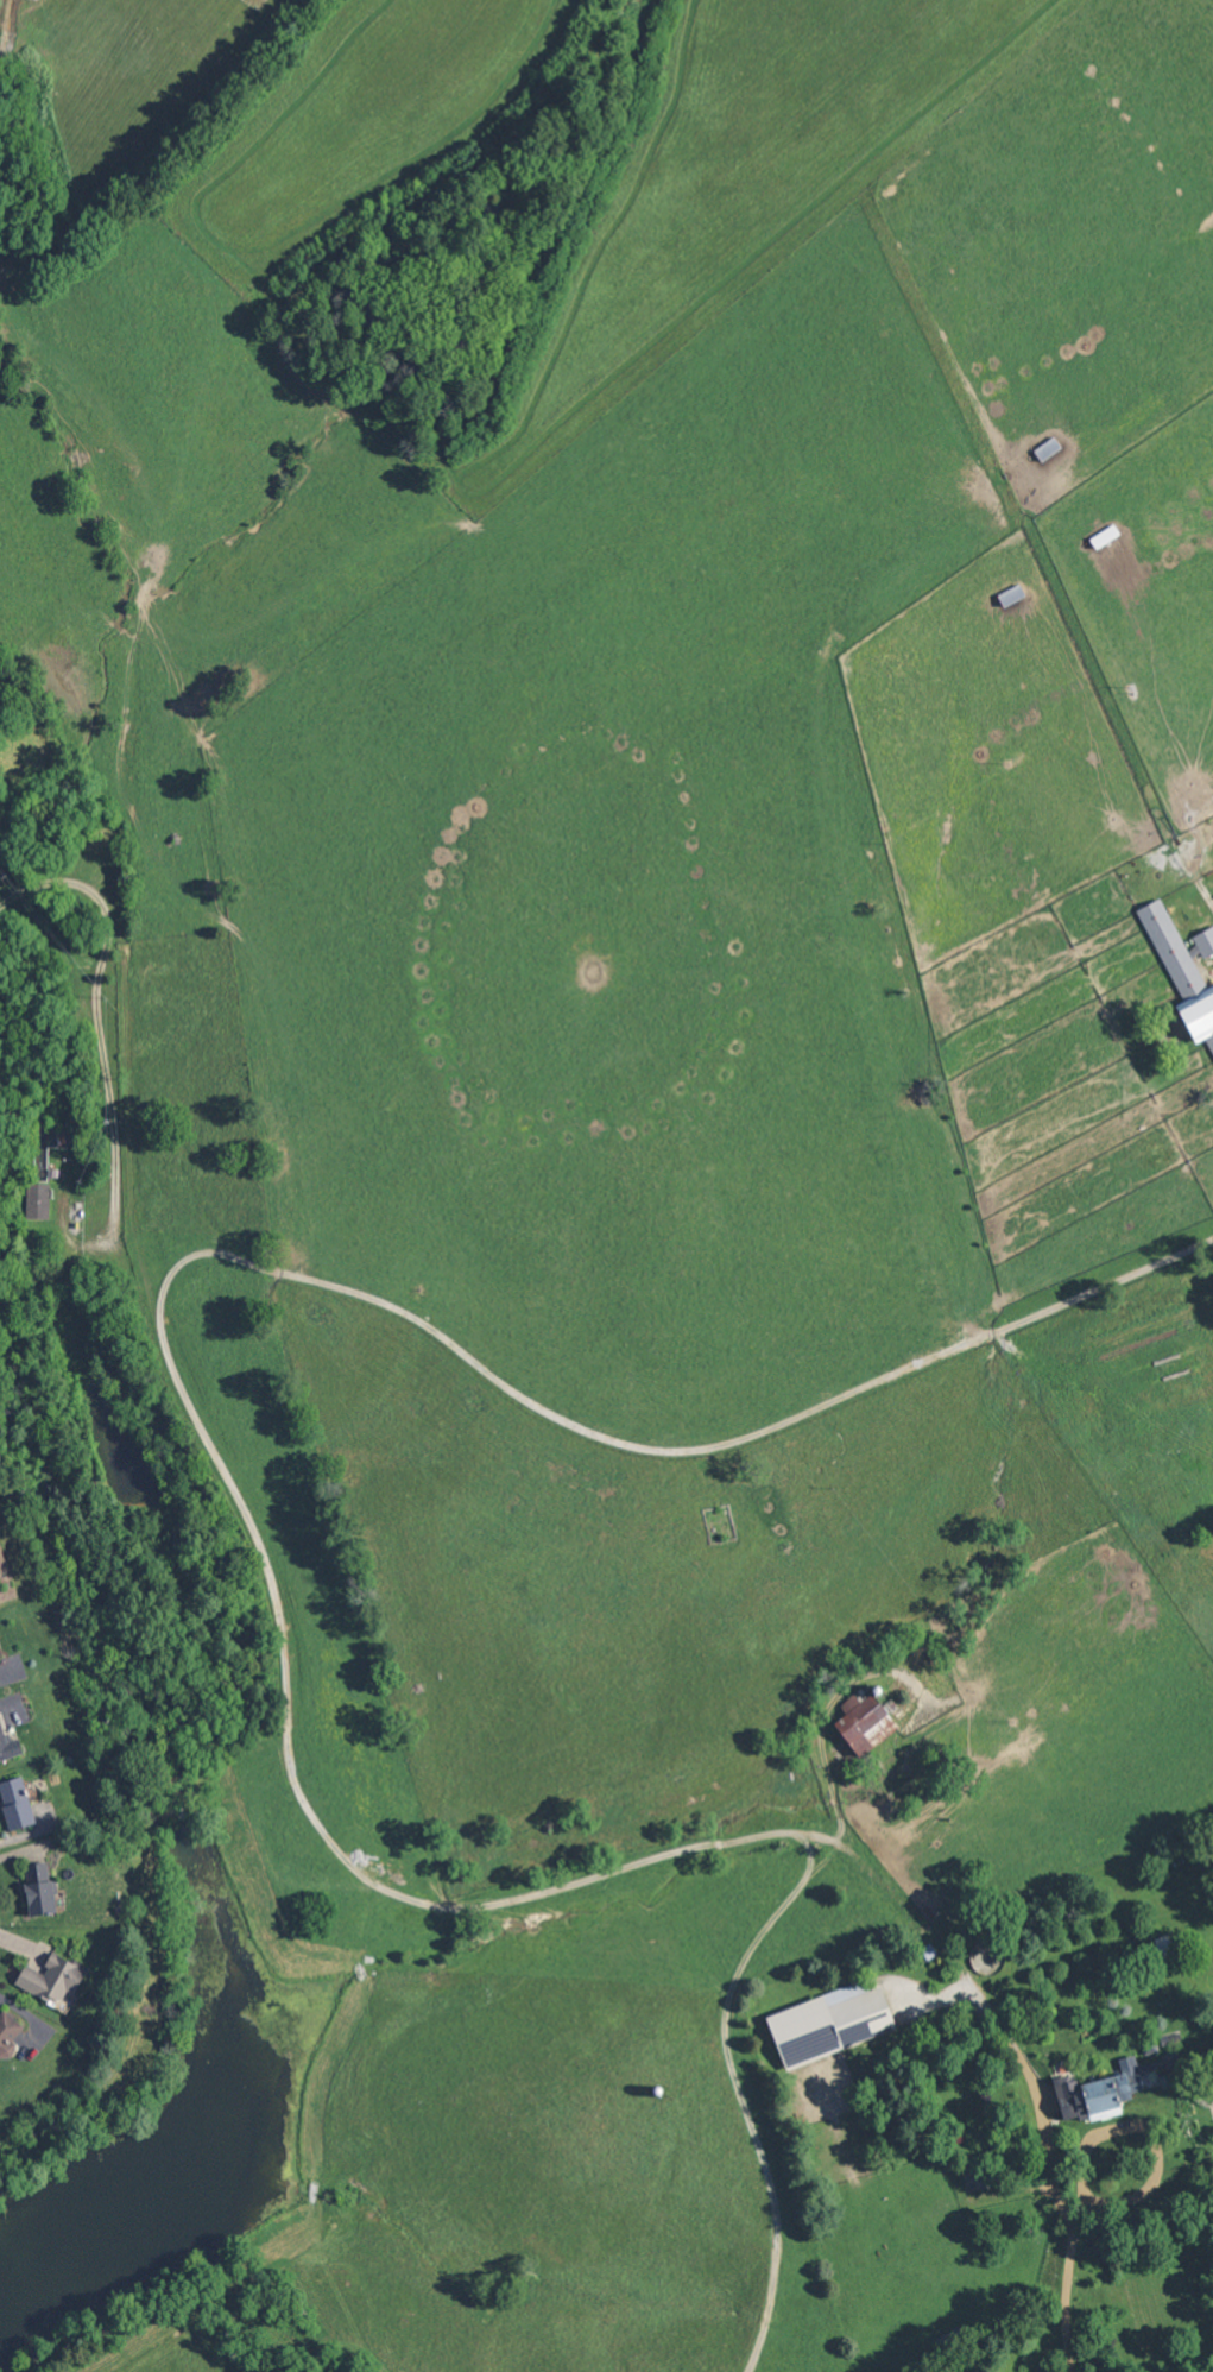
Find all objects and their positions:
building: (1202, 940)
building: (1177, 978)
building: (34, 1200)
road: (249, 1520)
park: (719, 1522)
building: (857, 1724)
building: (10, 1741)
building: (15, 1790)
building: (57, 1976)
building: (820, 2023)
building: (8, 2031)
building: (1099, 2087)
road: (1037, 2094)
road: (1069, 2250)

